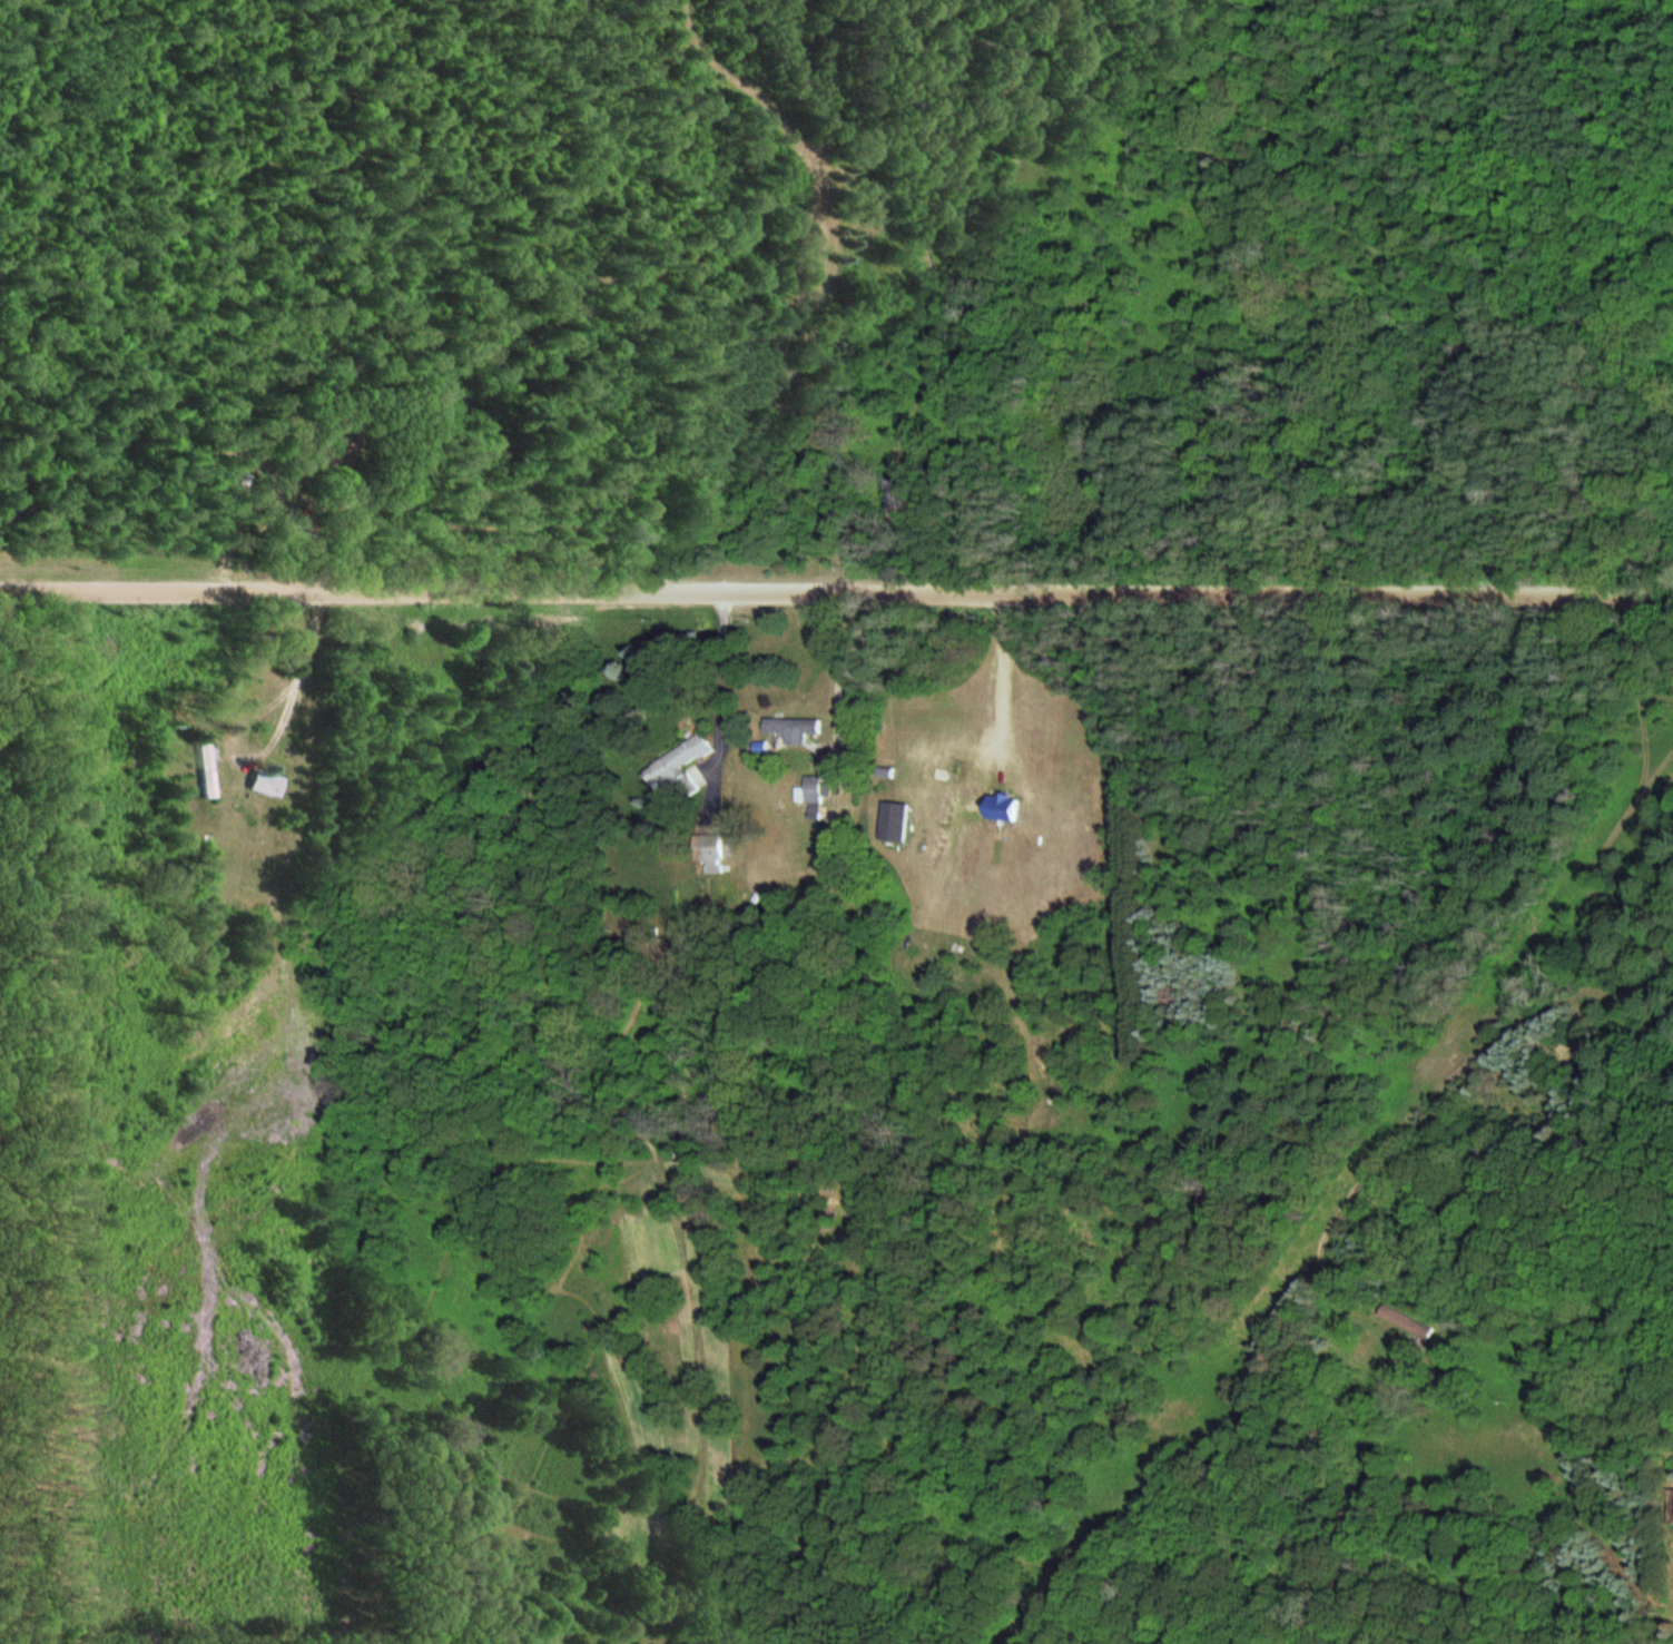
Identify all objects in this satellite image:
road: (836, 597)
road: (1664, 606)
road: (1657, 687)
building: (794, 728)
building: (679, 766)
building: (810, 790)
building: (1003, 808)
building: (895, 821)
building: (709, 849)
building: (631, 860)

